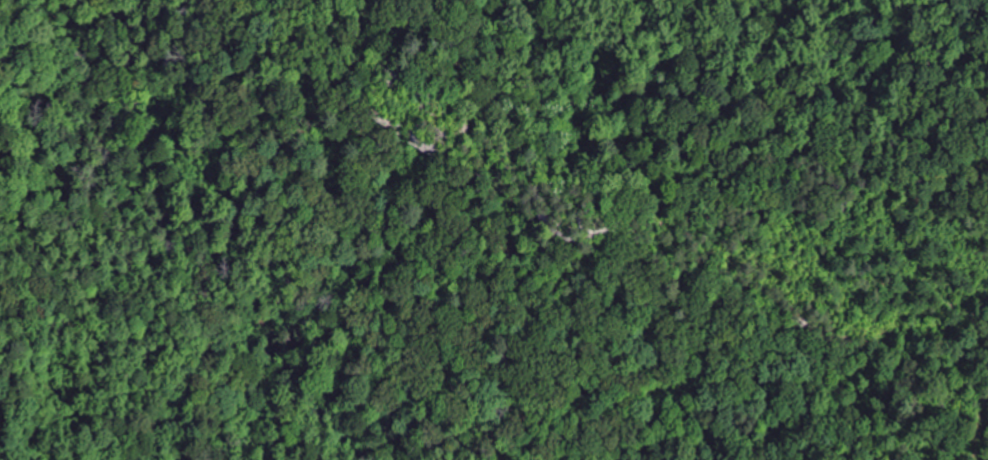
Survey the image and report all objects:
road: (970, 360)

